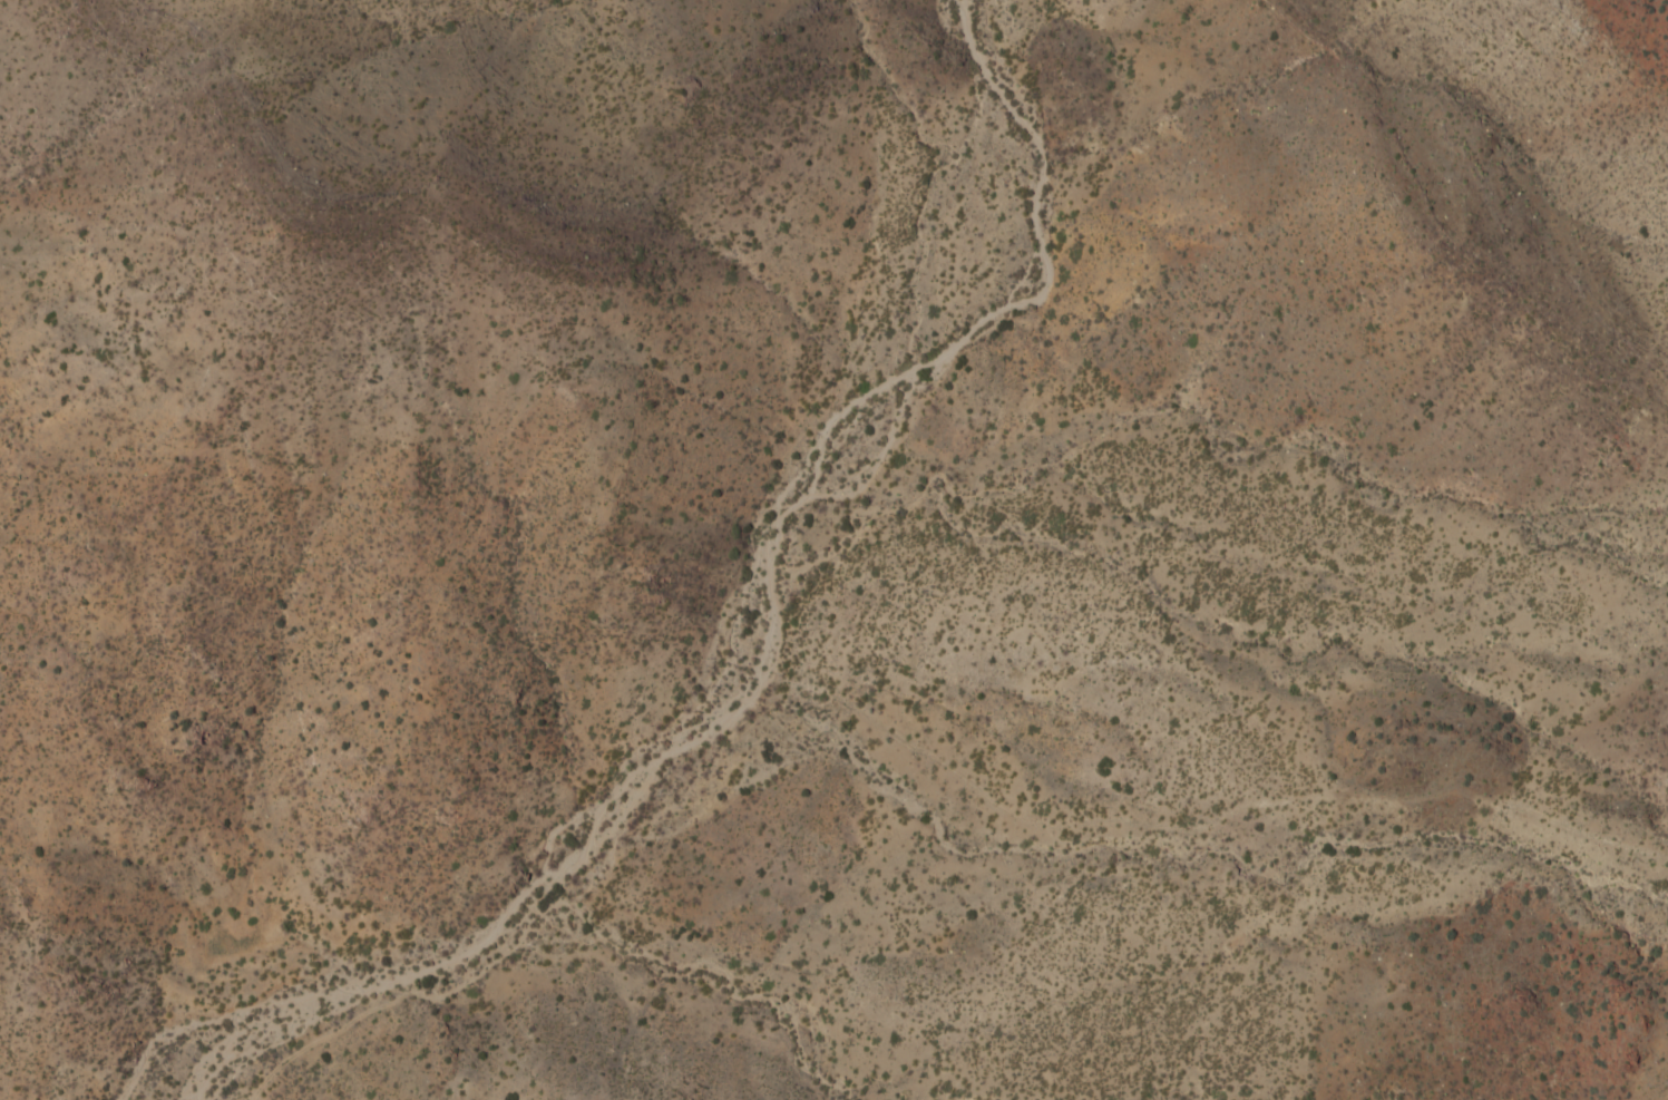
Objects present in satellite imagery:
road: (1200, 830)
road: (517, 907)

